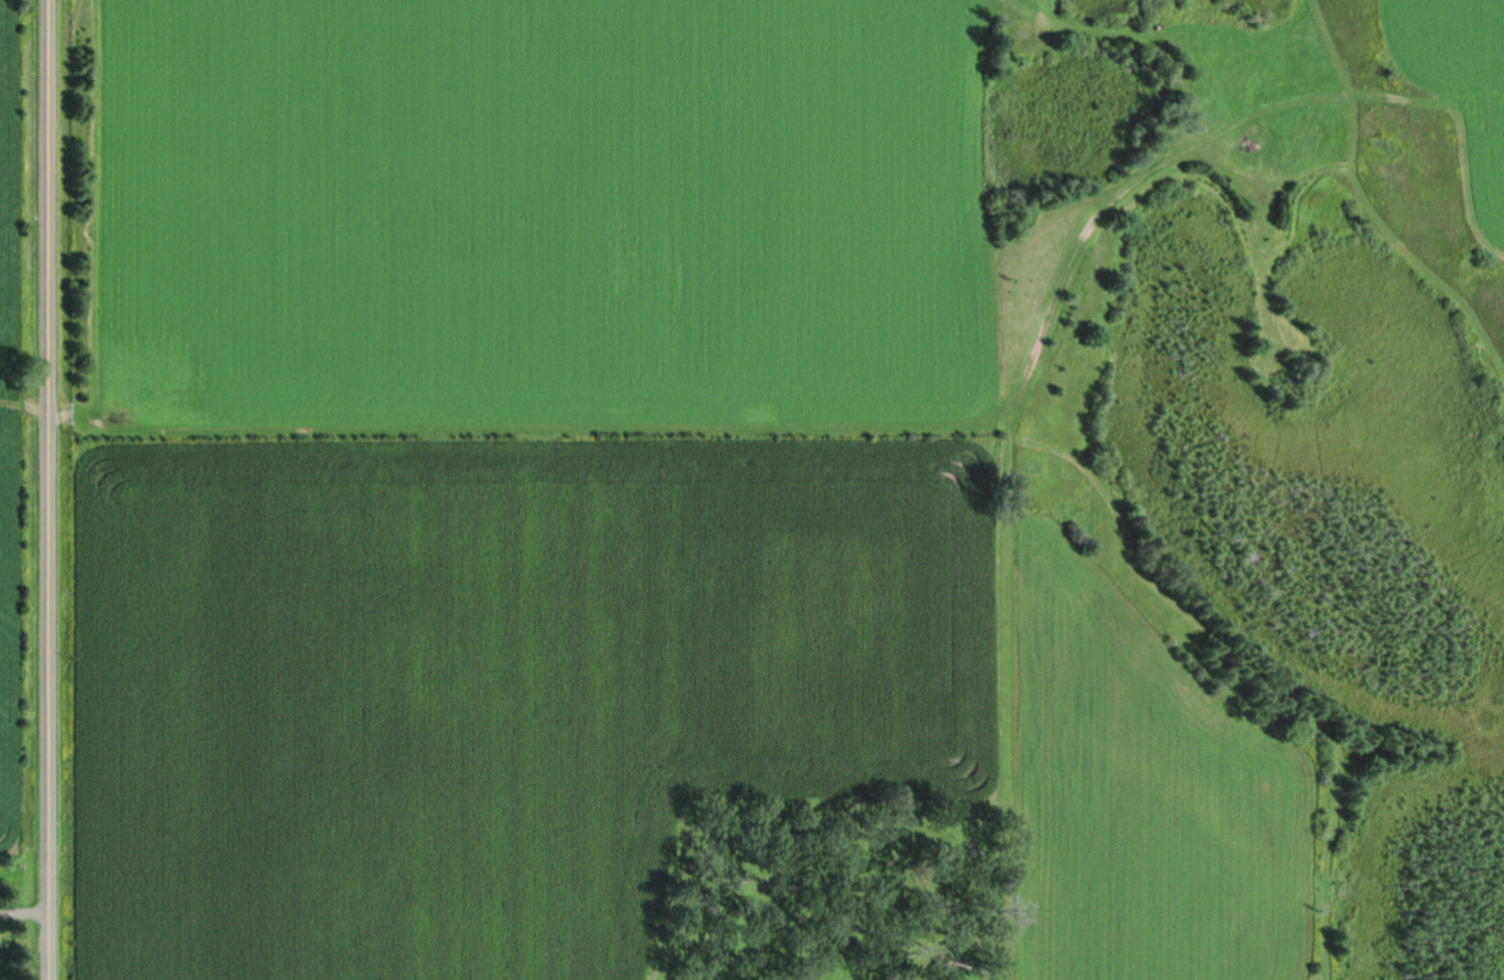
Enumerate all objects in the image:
road: (46, 490)

